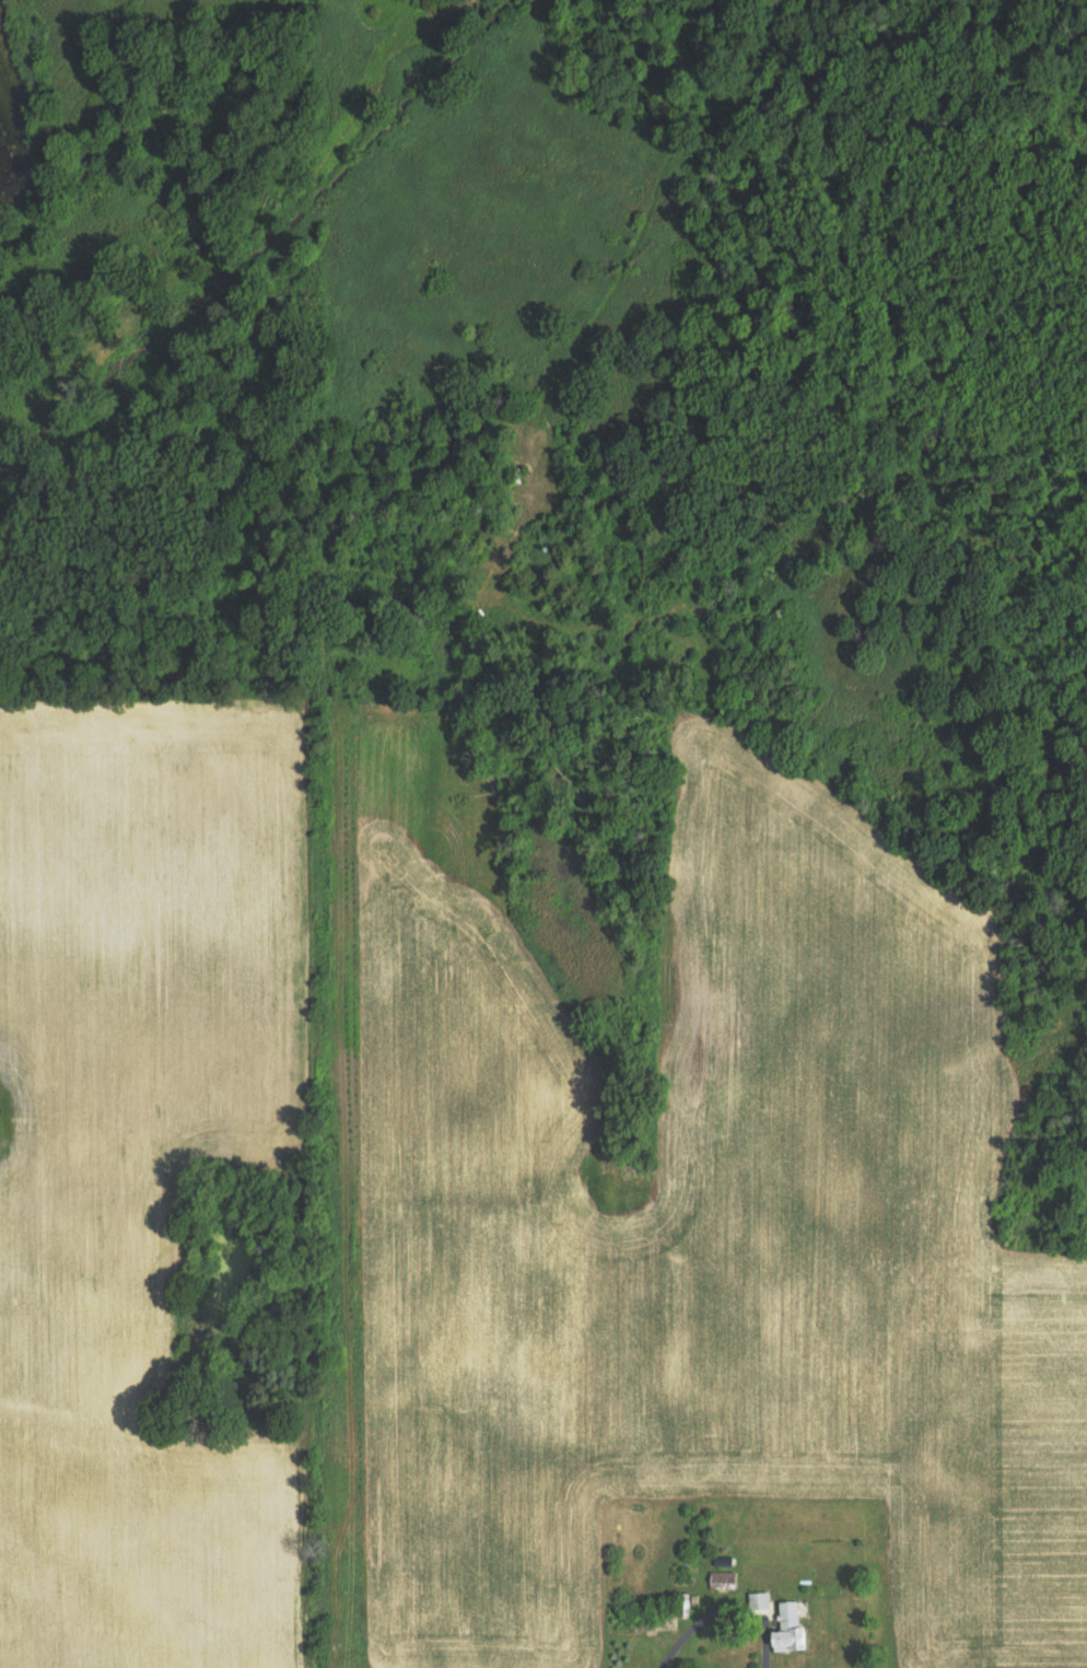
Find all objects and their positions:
building: (722, 1578)
building: (759, 1600)
building: (791, 1629)

